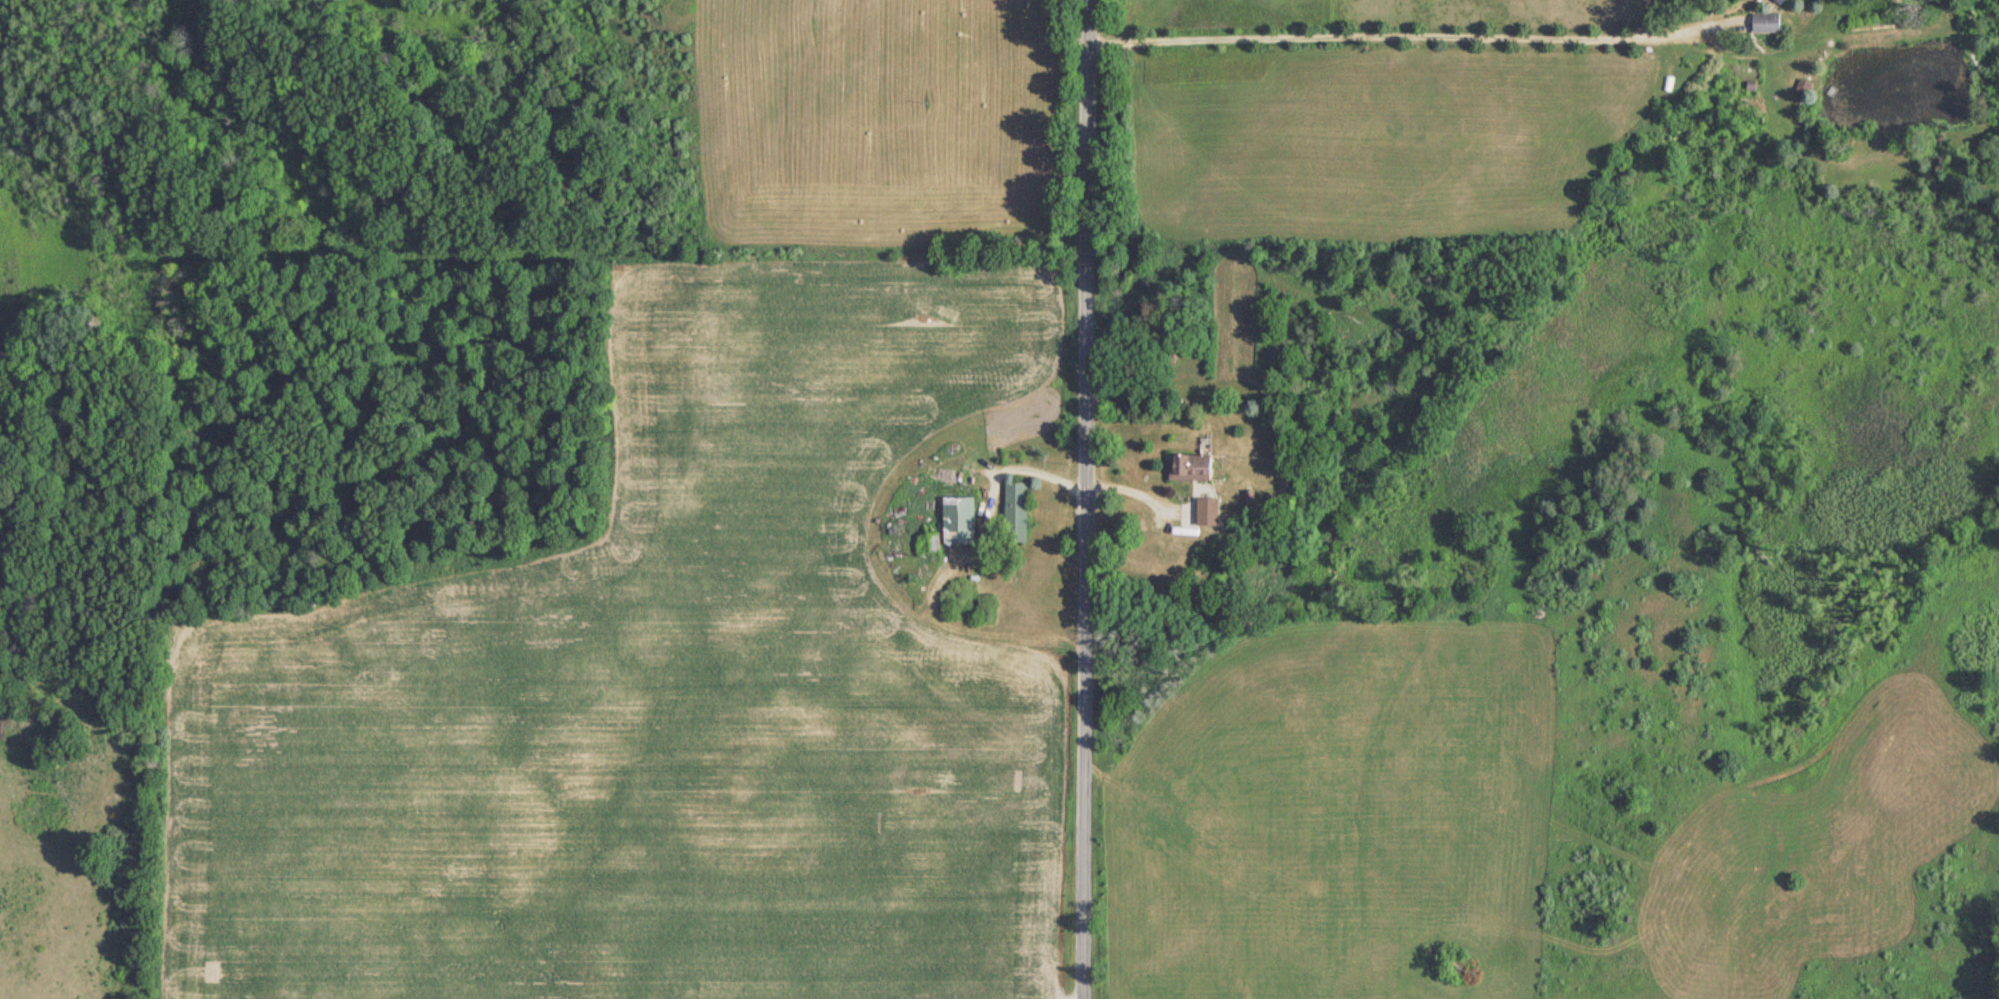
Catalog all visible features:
building: (1773, 0)
building: (1761, 22)
building: (1185, 466)
road: (1083, 499)
building: (1012, 511)
building: (1204, 516)
building: (954, 519)
building: (924, 542)

